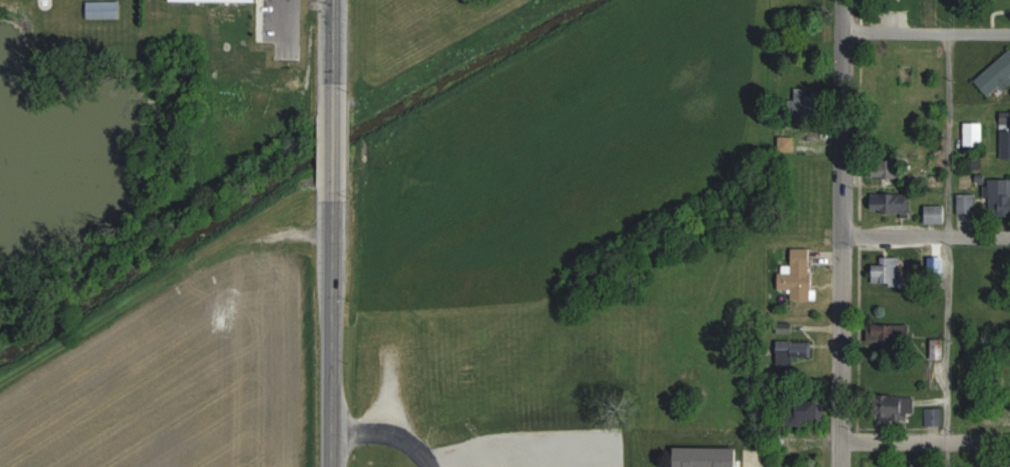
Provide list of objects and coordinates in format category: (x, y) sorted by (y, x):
building: (105, 9)
road: (282, 12)
road: (926, 31)
building: (996, 76)
building: (811, 102)
building: (1005, 136)
building: (999, 197)
building: (892, 202)
building: (935, 213)
road: (331, 233)
road: (842, 233)
road: (926, 235)
road: (949, 250)
building: (888, 271)
building: (799, 275)
building: (937, 348)
building: (794, 352)
building: (895, 407)
building: (804, 412)
building: (936, 416)
road: (385, 435)
road: (925, 438)
building: (708, 457)

